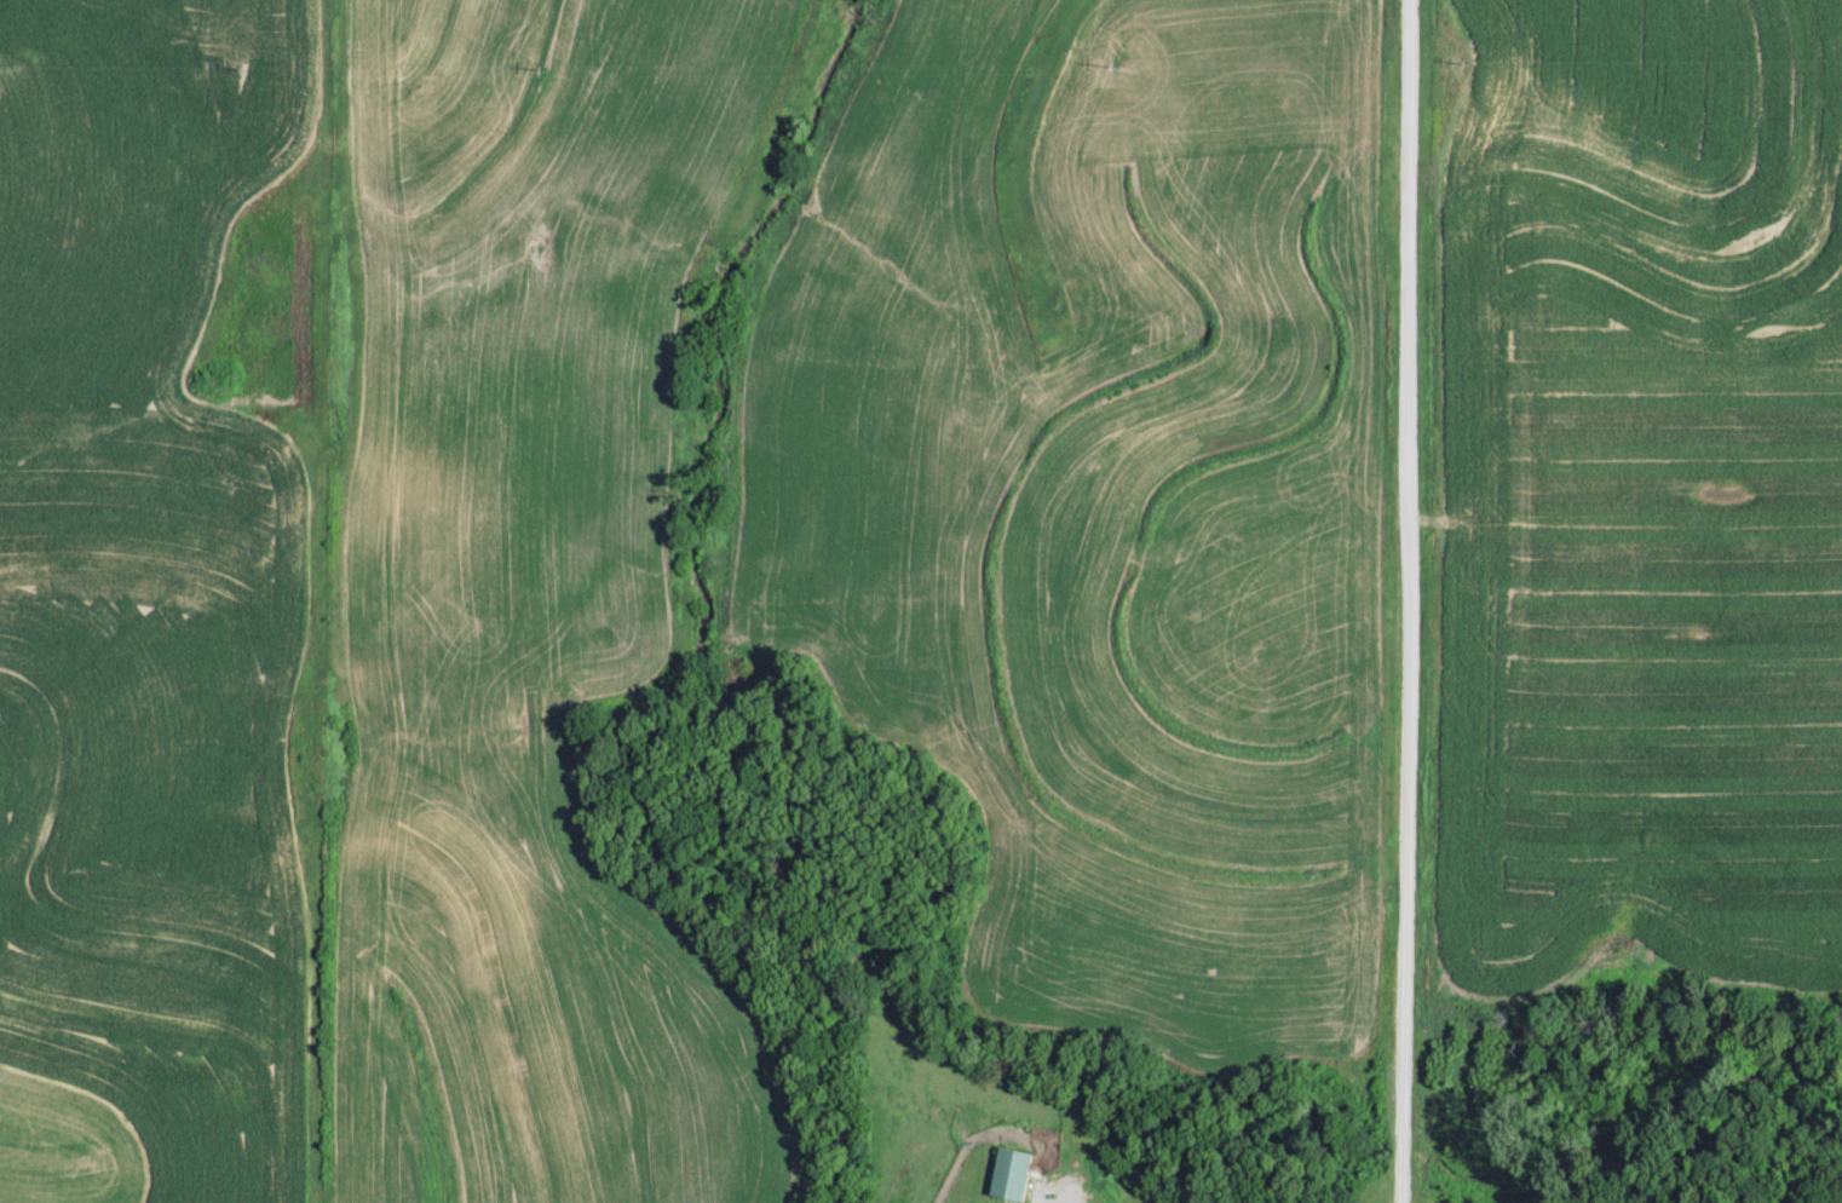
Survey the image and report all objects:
road: (1405, 601)
building: (1008, 1173)

